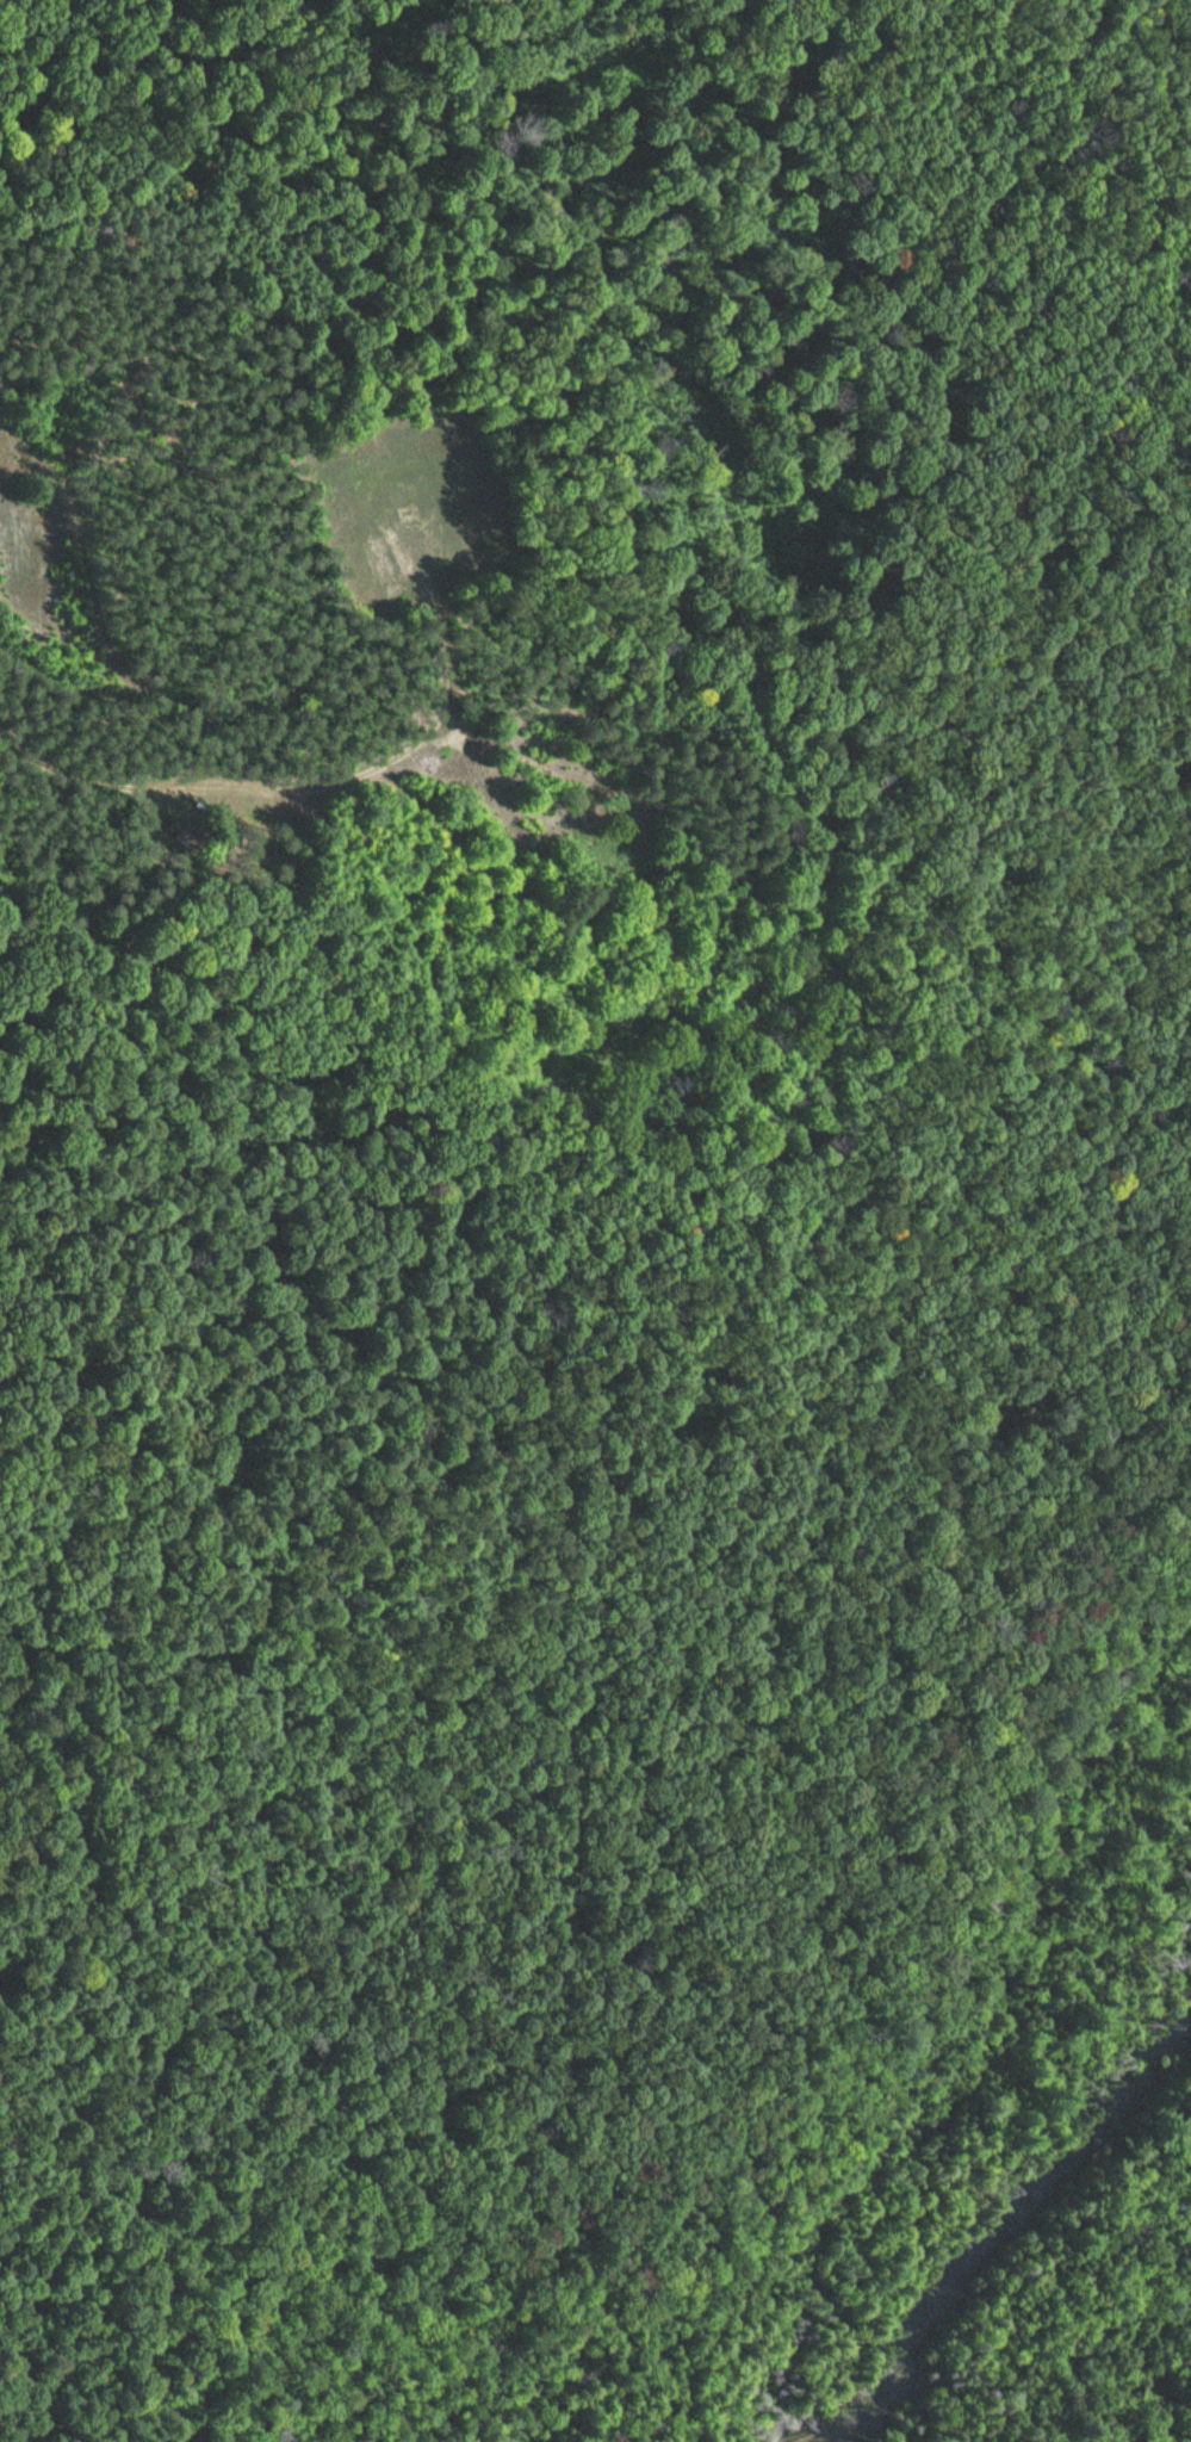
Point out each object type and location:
road: (1075, 360)
road: (985, 521)
building: (186, 835)
road: (576, 1004)
road: (652, 1758)
river: (999, 2218)

